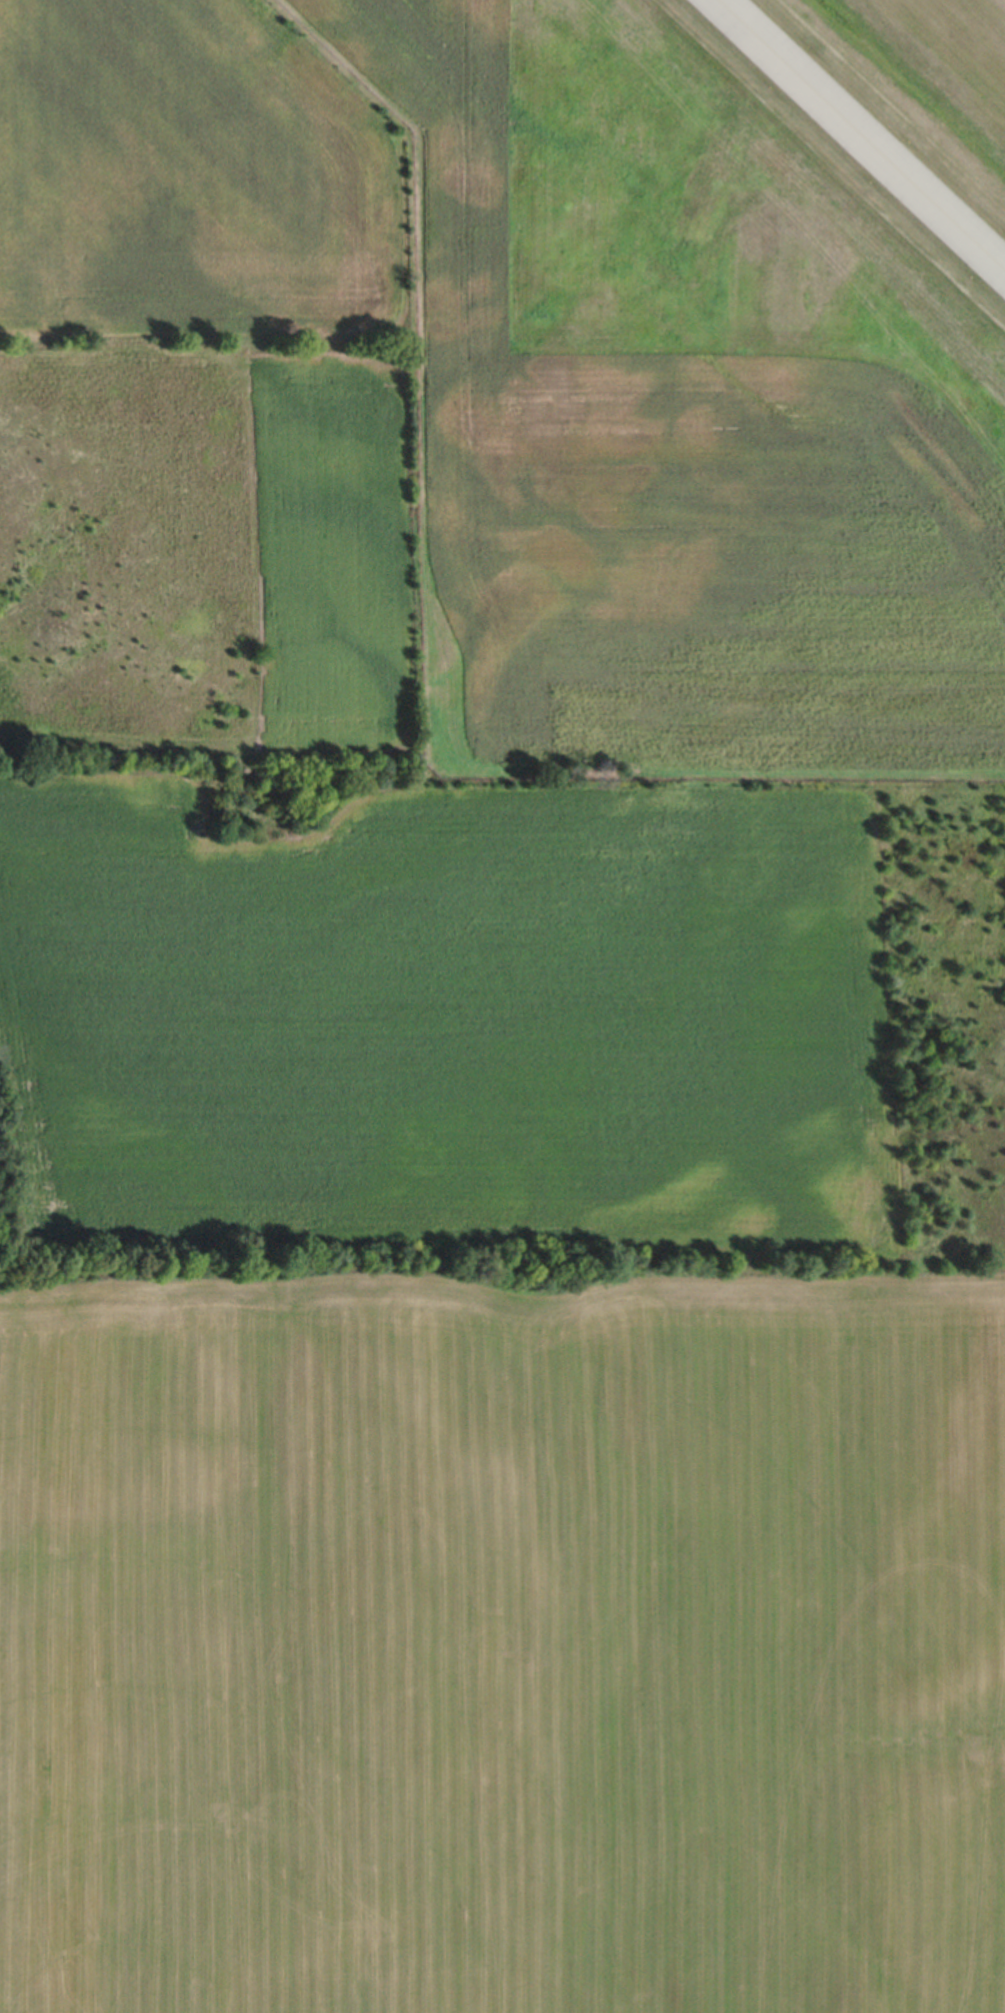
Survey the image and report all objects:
airport taxiway: (861, 137)
airport: (707, 383)

